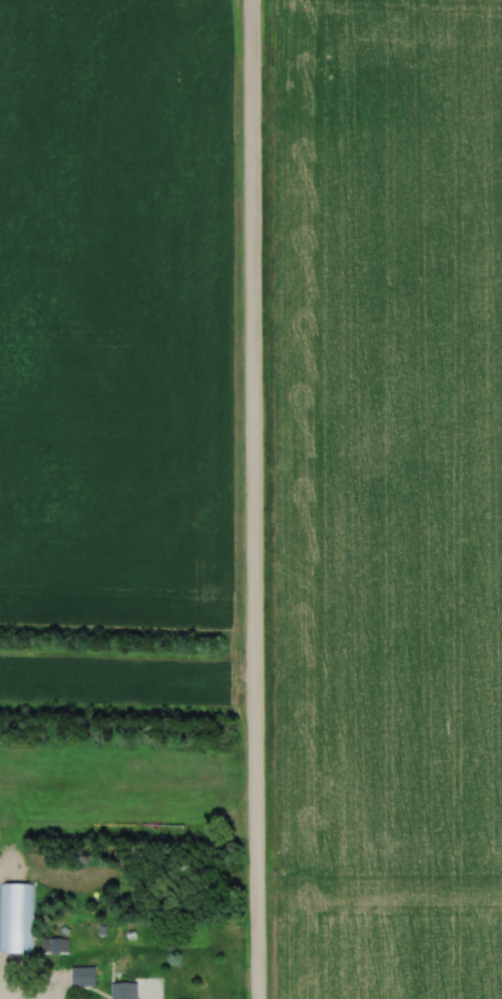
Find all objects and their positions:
road: (254, 499)
building: (16, 916)
building: (80, 975)
building: (121, 990)

